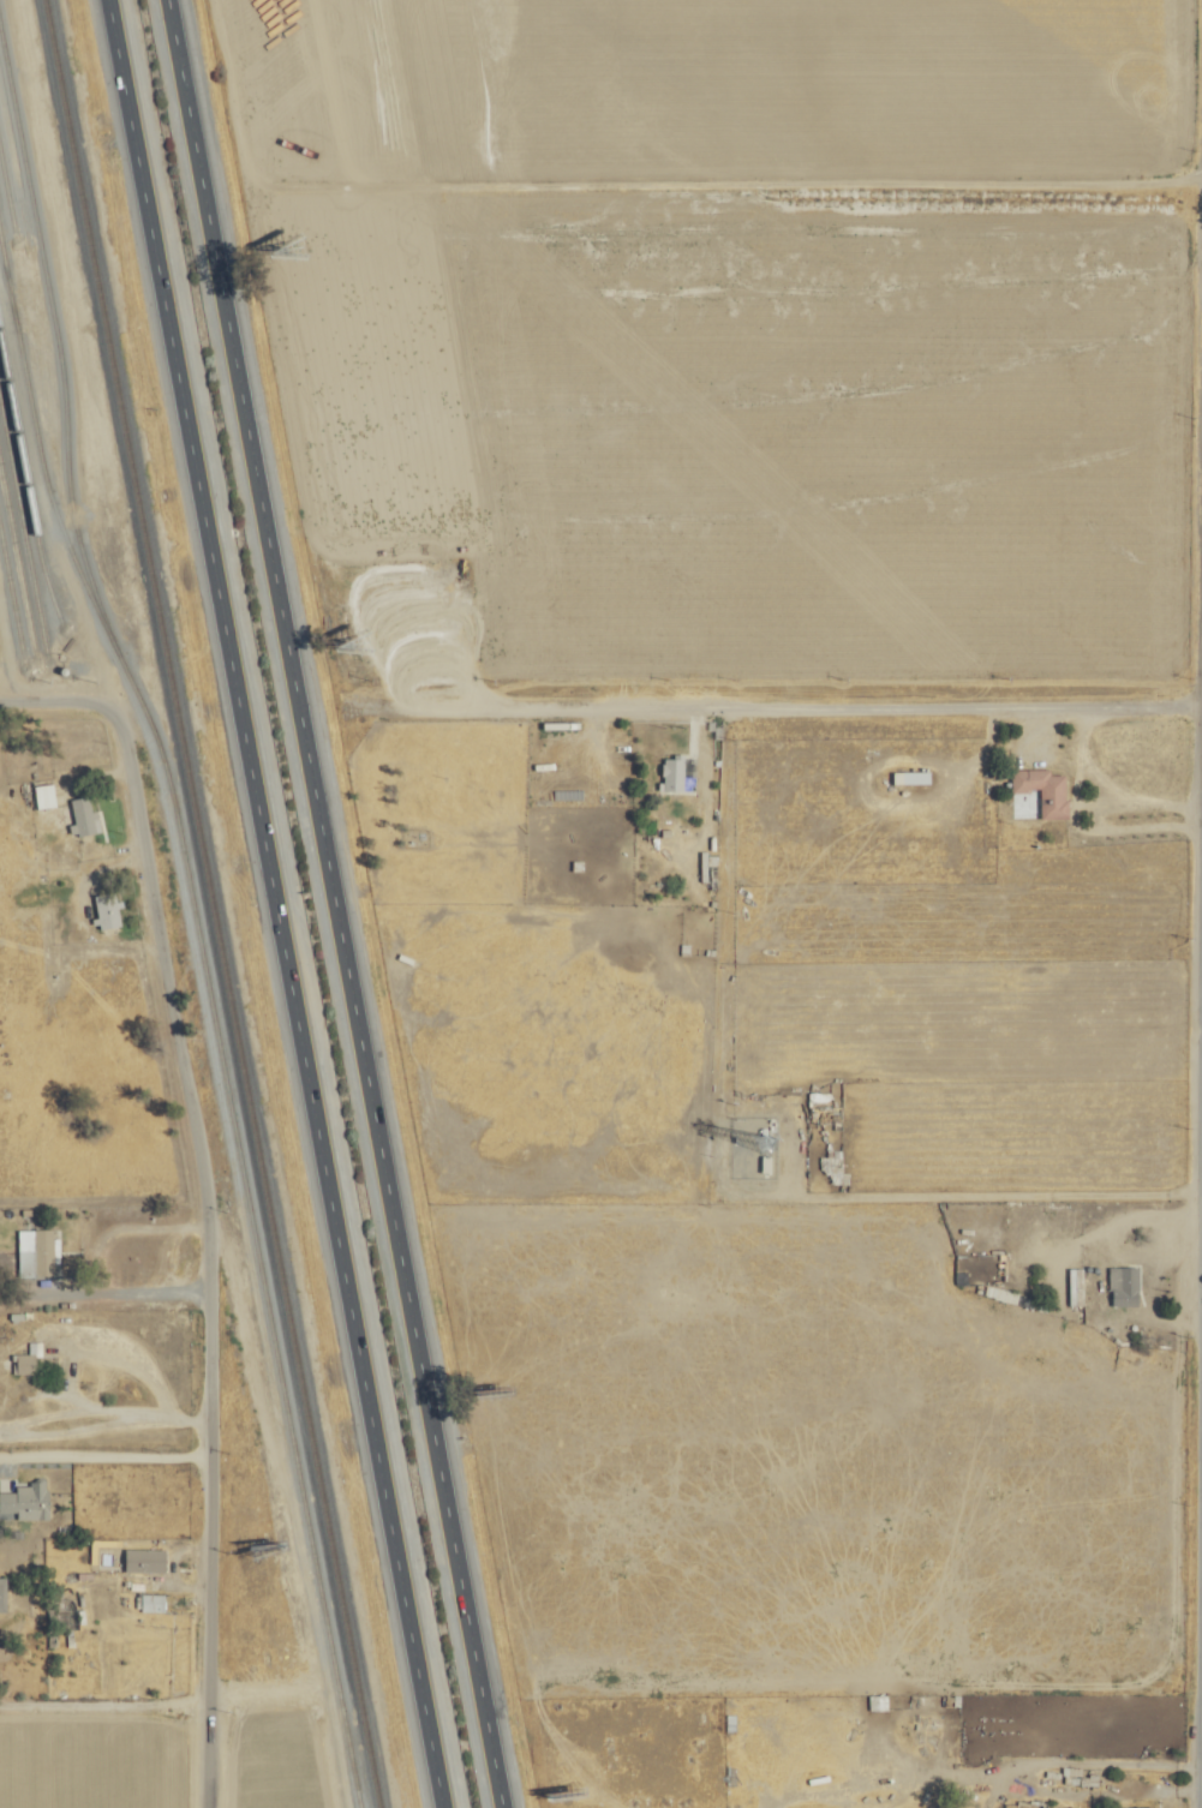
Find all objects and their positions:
crop: (724, 95)
railway: (13, 156)
railway: (7, 188)
railway: (4, 273)
crop: (549, 426)
railway: (32, 430)
railway: (23, 501)
railway: (19, 522)
railway: (18, 546)
railway: (12, 580)
railway: (7, 609)
road: (48, 698)
road: (776, 708)
road: (1078, 765)
building: (672, 772)
building: (914, 776)
building: (1045, 788)
building: (44, 794)
building: (1033, 801)
road: (1147, 803)
building: (84, 816)
road: (1195, 819)
road: (1077, 821)
road: (1132, 827)
railway: (213, 904)
road: (277, 904)
road: (337, 904)
railway: (192, 905)
building: (108, 909)
building: (38, 1247)
road: (197, 1250)
building: (1125, 1283)
building: (1076, 1285)
road: (98, 1298)
building: (26, 1361)
road: (98, 1455)
building: (26, 1499)
building: (146, 1558)
building: (2, 1593)
building: (153, 1600)
road: (98, 1704)
road: (1106, 1761)
road: (1201, 1785)
building: (1136, 1807)

